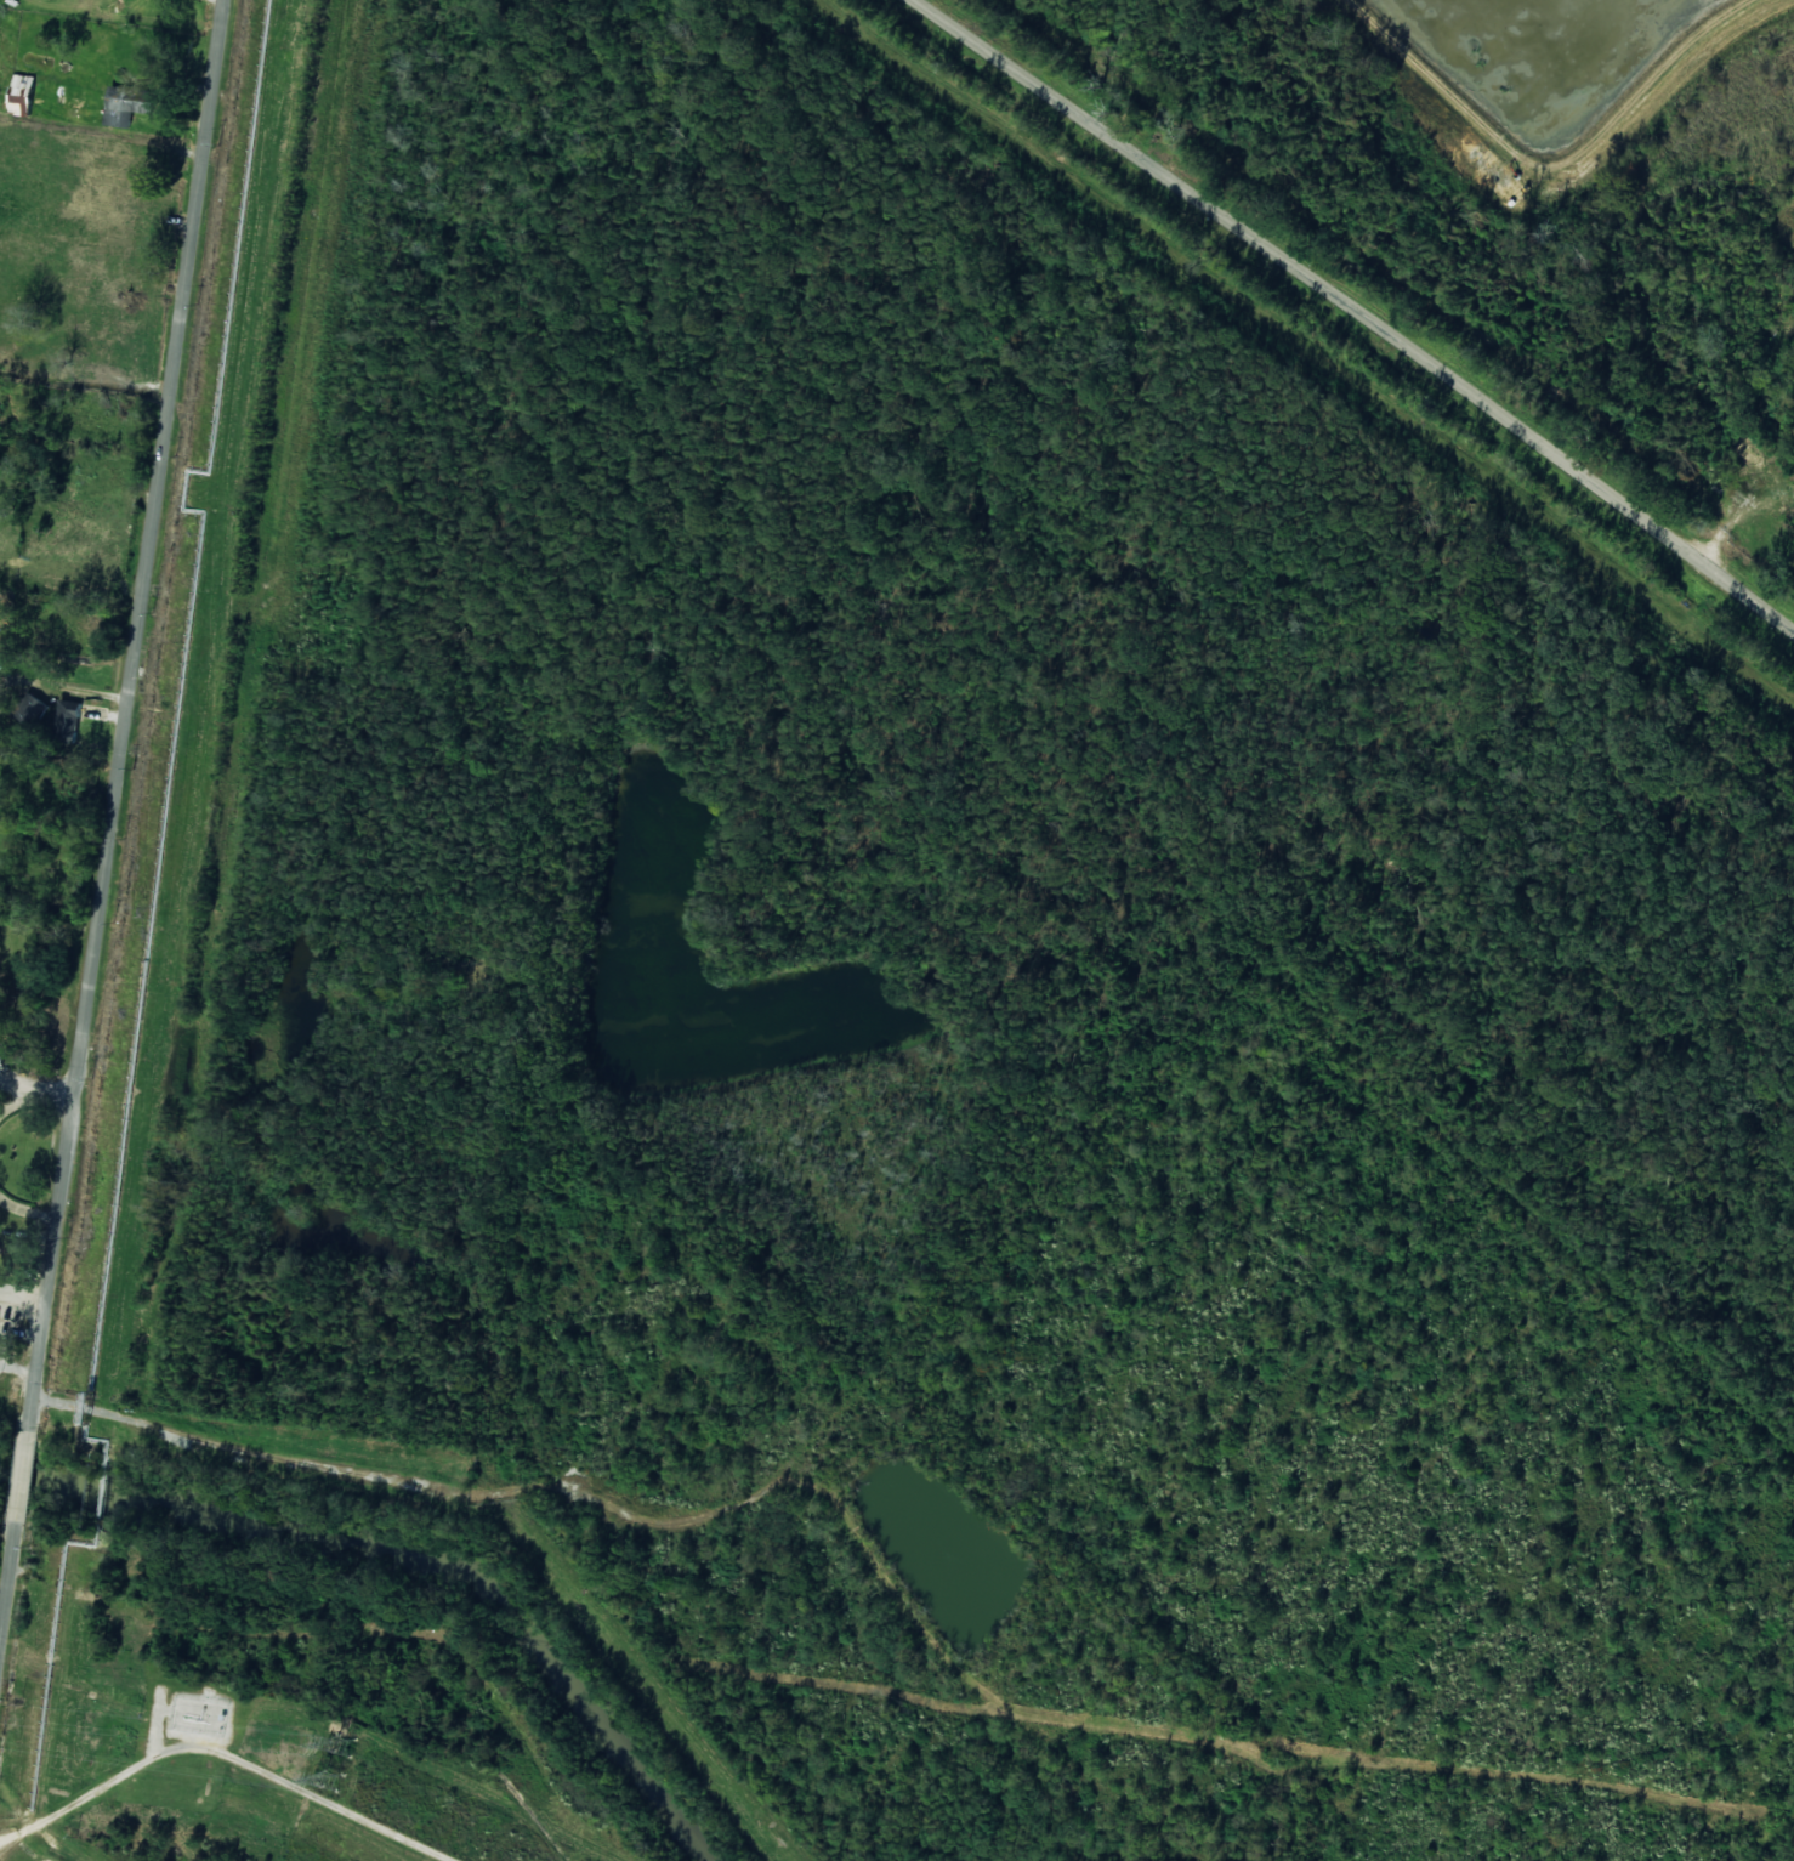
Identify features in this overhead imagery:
building: (22, 95)
building: (127, 104)
building: (130, 164)
road: (1357, 314)
building: (29, 709)
building: (68, 720)
road: (113, 838)
road: (421, 1483)
road: (237, 1744)
power tower: (331, 1780)

